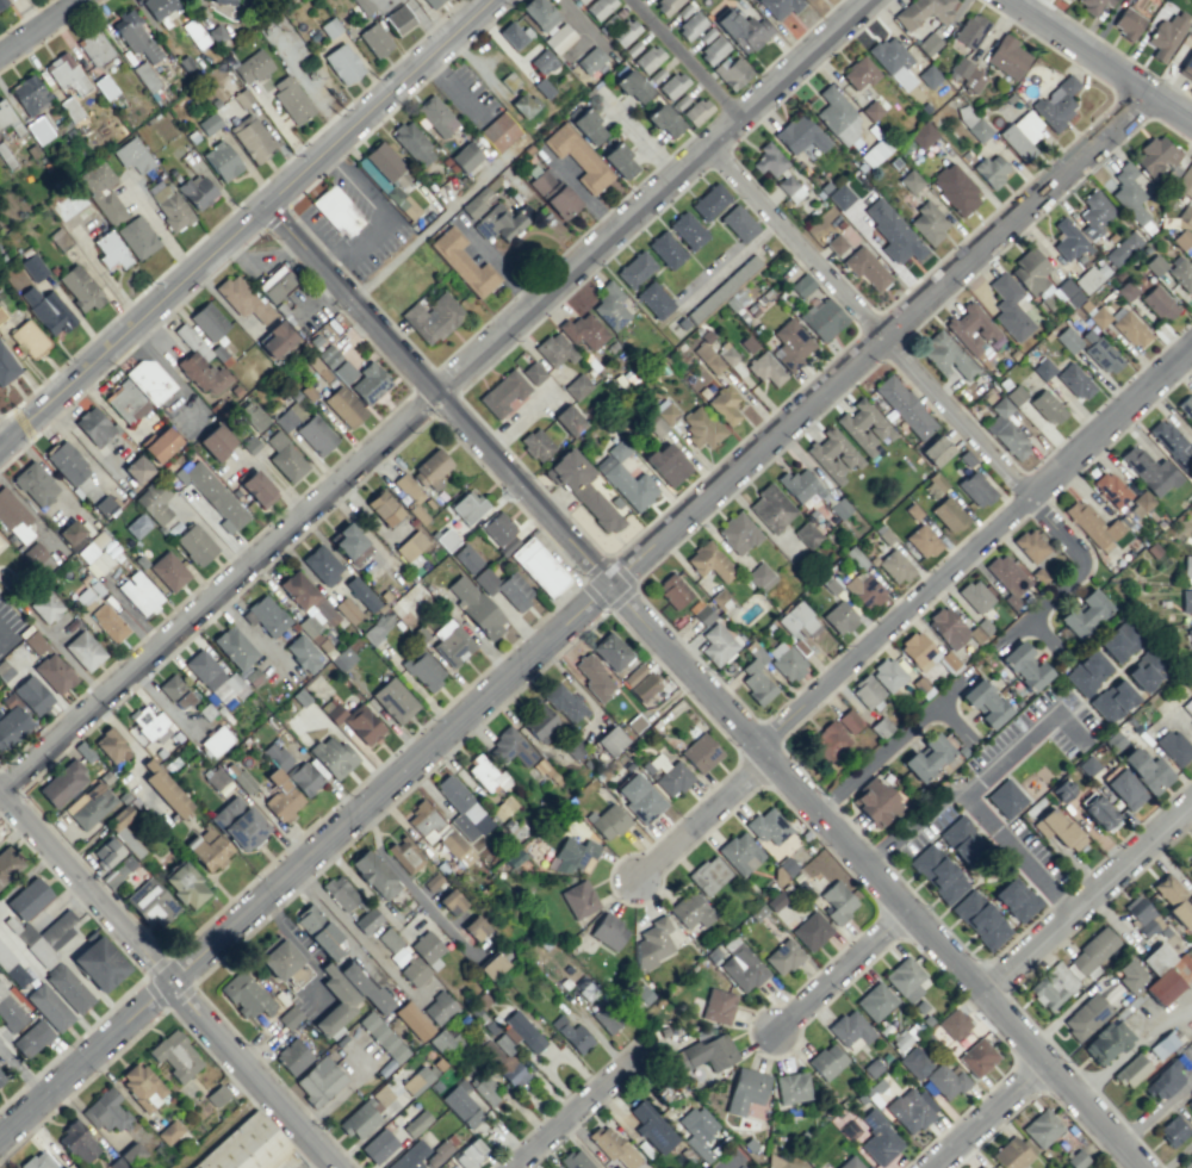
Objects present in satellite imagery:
building: (808, 0)
building: (222, 1)
building: (581, 1)
building: (2, 2)
building: (432, 2)
building: (665, 5)
building: (1093, 5)
building: (598, 7)
building: (780, 7)
building: (160, 8)
building: (921, 11)
building: (539, 13)
building: (398, 19)
building: (1128, 23)
building: (690, 25)
road: (41, 29)
building: (741, 30)
building: (970, 30)
building: (625, 32)
building: (513, 33)
building: (1167, 33)
building: (135, 36)
building: (558, 38)
building: (374, 39)
road: (1080, 46)
building: (94, 48)
building: (713, 49)
building: (1007, 56)
building: (648, 58)
road: (687, 58)
building: (590, 60)
building: (542, 61)
building: (893, 61)
building: (342, 63)
building: (252, 67)
building: (1186, 68)
building: (731, 72)
building: (66, 73)
building: (859, 73)
building: (966, 75)
building: (145, 76)
building: (929, 76)
building: (672, 85)
building: (633, 86)
building: (29, 94)
building: (291, 99)
building: (1056, 102)
building: (523, 105)
road: (1171, 108)
building: (696, 111)
building: (5, 114)
building: (435, 116)
building: (837, 116)
building: (664, 120)
building: (206, 123)
building: (586, 124)
building: (977, 129)
building: (498, 131)
building: (800, 135)
building: (923, 135)
building: (1020, 135)
building: (252, 137)
building: (412, 143)
building: (876, 149)
building: (132, 155)
building: (1155, 155)
building: (465, 156)
building: (578, 157)
building: (619, 160)
building: (769, 160)
building: (221, 161)
building: (384, 168)
building: (991, 169)
building: (909, 180)
building: (1185, 181)
building: (790, 188)
building: (955, 188)
building: (197, 191)
building: (101, 192)
building: (553, 193)
building: (1129, 193)
building: (840, 197)
building: (709, 201)
building: (69, 204)
building: (472, 206)
building: (170, 207)
building: (408, 207)
building: (336, 210)
building: (1094, 213)
building: (1185, 217)
building: (504, 219)
building: (929, 222)
building: (738, 223)
road: (256, 224)
building: (687, 230)
building: (893, 232)
building: (137, 237)
building: (1182, 238)
building: (1068, 241)
building: (836, 243)
building: (1123, 248)
building: (110, 249)
building: (665, 249)
building: (462, 262)
building: (1155, 265)
building: (33, 267)
building: (635, 268)
building: (865, 268)
building: (1030, 271)
building: (1181, 274)
building: (275, 284)
building: (802, 285)
building: (80, 288)
building: (1068, 292)
building: (236, 294)
building: (653, 299)
building: (1159, 303)
building: (609, 306)
building: (1010, 307)
building: (46, 310)
building: (432, 318)
building: (822, 318)
building: (207, 321)
building: (1131, 329)
building: (583, 330)
building: (971, 330)
building: (29, 337)
building: (275, 340)
building: (1068, 340)
building: (791, 344)
building: (554, 349)
building: (1103, 354)
building: (727, 356)
building: (946, 356)
building: (708, 358)
building: (198, 362)
building: (6, 366)
building: (341, 368)
building: (765, 368)
building: (1043, 368)
building: (533, 372)
building: (149, 380)
building: (1075, 381)
building: (370, 383)
building: (577, 386)
road: (930, 390)
building: (502, 393)
road: (437, 396)
building: (125, 402)
building: (724, 404)
building: (1186, 405)
building: (343, 406)
building: (904, 406)
building: (1047, 406)
building: (253, 416)
building: (660, 416)
building: (288, 417)
building: (569, 420)
building: (93, 425)
building: (863, 427)
building: (701, 428)
building: (1006, 430)
building: (315, 435)
building: (216, 441)
building: (1172, 442)
building: (160, 443)
building: (536, 445)
building: (937, 452)
building: (833, 455)
building: (285, 458)
building: (968, 459)
building: (67, 462)
building: (668, 464)
building: (137, 468)
building: (432, 468)
building: (1149, 470)
building: (625, 478)
building: (35, 484)
building: (799, 485)
building: (408, 487)
building: (582, 487)
building: (257, 489)
building: (976, 489)
building: (1110, 489)
building: (212, 493)
building: (153, 502)
building: (467, 507)
building: (383, 508)
building: (771, 508)
building: (914, 511)
building: (951, 514)
building: (13, 516)
building: (1092, 526)
building: (499, 533)
building: (738, 533)
building: (808, 534)
building: (73, 535)
building: (446, 540)
building: (925, 541)
building: (194, 543)
building: (349, 543)
road: (976, 543)
building: (1030, 545)
building: (410, 546)
building: (89, 547)
building: (36, 554)
building: (466, 558)
building: (857, 558)
building: (709, 561)
building: (322, 565)
building: (539, 566)
building: (896, 567)
building: (1187, 570)
building: (168, 571)
building: (762, 577)
building: (1007, 578)
building: (833, 586)
building: (504, 588)
building: (672, 590)
building: (864, 591)
building: (139, 594)
building: (361, 594)
building: (306, 596)
building: (975, 596)
building: (1186, 601)
building: (45, 605)
building: (474, 605)
building: (347, 610)
building: (1084, 614)
building: (265, 615)
building: (704, 615)
road: (575, 617)
building: (839, 617)
building: (799, 620)
building: (108, 622)
building: (948, 627)
building: (378, 628)
building: (1190, 634)
building: (1120, 641)
building: (452, 642)
building: (716, 644)
building: (234, 647)
building: (83, 650)
building: (918, 651)
building: (613, 652)
building: (303, 653)
building: (343, 658)
building: (786, 660)
building: (1025, 666)
building: (423, 669)
building: (1146, 670)
building: (1087, 672)
building: (54, 673)
building: (887, 673)
building: (594, 676)
building: (215, 677)
building: (756, 678)
building: (645, 688)
road: (707, 688)
building: (865, 691)
building: (175, 692)
building: (32, 695)
building: (1113, 700)
building: (395, 701)
building: (564, 702)
building: (986, 703)
building: (849, 721)
building: (148, 722)
building: (540, 722)
building: (360, 723)
building: (638, 723)
building: (11, 726)
road: (790, 728)
building: (216, 740)
building: (610, 740)
building: (830, 741)
road: (889, 745)
building: (111, 746)
building: (1173, 746)
building: (510, 747)
building: (701, 752)
building: (333, 756)
building: (926, 757)
building: (281, 760)
building: (542, 768)
building: (1147, 770)
building: (485, 774)
building: (672, 777)
building: (216, 778)
building: (303, 778)
building: (62, 783)
road: (979, 783)
building: (166, 789)
building: (1125, 789)
building: (281, 796)
building: (639, 797)
building: (1005, 797)
building: (876, 802)
building: (91, 806)
building: (460, 806)
building: (1099, 813)
building: (424, 821)
building: (608, 821)
building: (237, 824)
road: (707, 824)
building: (769, 827)
building: (1058, 828)
building: (123, 834)
building: (962, 839)
building: (457, 847)
building: (207, 849)
building: (106, 852)
road: (628, 853)
building: (740, 853)
building: (405, 855)
building: (572, 855)
road: (1019, 855)
building: (8, 863)
building: (124, 866)
building: (1188, 868)
road: (1087, 871)
building: (938, 872)
building: (374, 875)
building: (708, 875)
building: (184, 884)
building: (340, 893)
building: (27, 899)
building: (579, 899)
building: (1016, 899)
building: (1173, 899)
building: (150, 900)
road: (1089, 900)
building: (837, 901)
building: (453, 902)
building: (691, 911)
building: (1141, 917)
building: (980, 919)
building: (368, 921)
building: (474, 927)
building: (57, 930)
building: (318, 931)
building: (608, 931)
building: (811, 931)
building: (390, 940)
building: (652, 943)
building: (406, 949)
building: (427, 950)
building: (1093, 950)
building: (43, 953)
building: (783, 956)
building: (278, 957)
building: (99, 962)
building: (492, 965)
building: (741, 968)
building: (414, 971)
building: (1165, 973)
road: (170, 974)
road: (849, 975)
road: (993, 976)
building: (1130, 976)
building: (905, 978)
building: (1053, 986)
building: (68, 987)
building: (365, 987)
road: (1011, 987)
building: (246, 995)
building: (875, 1001)
building: (335, 1005)
building: (48, 1006)
building: (718, 1006)
building: (441, 1008)
road: (162, 1011)
building: (10, 1012)
building: (607, 1017)
building: (1085, 1017)
building: (414, 1020)
building: (954, 1023)
building: (850, 1029)
building: (524, 1031)
building: (571, 1035)
building: (32, 1038)
building: (442, 1042)
building: (1106, 1042)
building: (1162, 1044)
building: (489, 1050)
building: (399, 1054)
building: (707, 1054)
building: (175, 1055)
building: (292, 1056)
building: (977, 1057)
building: (826, 1061)
building: (915, 1062)
building: (1131, 1070)
building: (511, 1071)
road: (23, 1074)
road: (1026, 1075)
building: (1, 1077)
building: (318, 1081)
building: (945, 1081)
building: (1163, 1081)
building: (414, 1082)
building: (141, 1086)
building: (791, 1087)
building: (484, 1088)
building: (745, 1089)
road: (1036, 1093)
building: (217, 1095)
building: (1191, 1095)
building: (911, 1108)
road: (579, 1111)
building: (104, 1112)
road: (985, 1114)
building: (360, 1119)
building: (418, 1123)
building: (652, 1126)
building: (1042, 1127)
building: (1173, 1130)
building: (699, 1131)
building: (169, 1132)
building: (879, 1138)
building: (77, 1142)
building: (611, 1145)
building: (246, 1147)
building: (380, 1147)
building: (468, 1154)
building: (1011, 1154)
building: (128, 1157)
building: (409, 1157)
building: (575, 1160)
building: (1076, 1160)
building: (37, 1161)
road: (318, 1161)
building: (850, 1163)
building: (1188, 1163)
road: (726, 1164)
building: (981, 1166)
building: (63, 1167)
building: (452, 1167)

